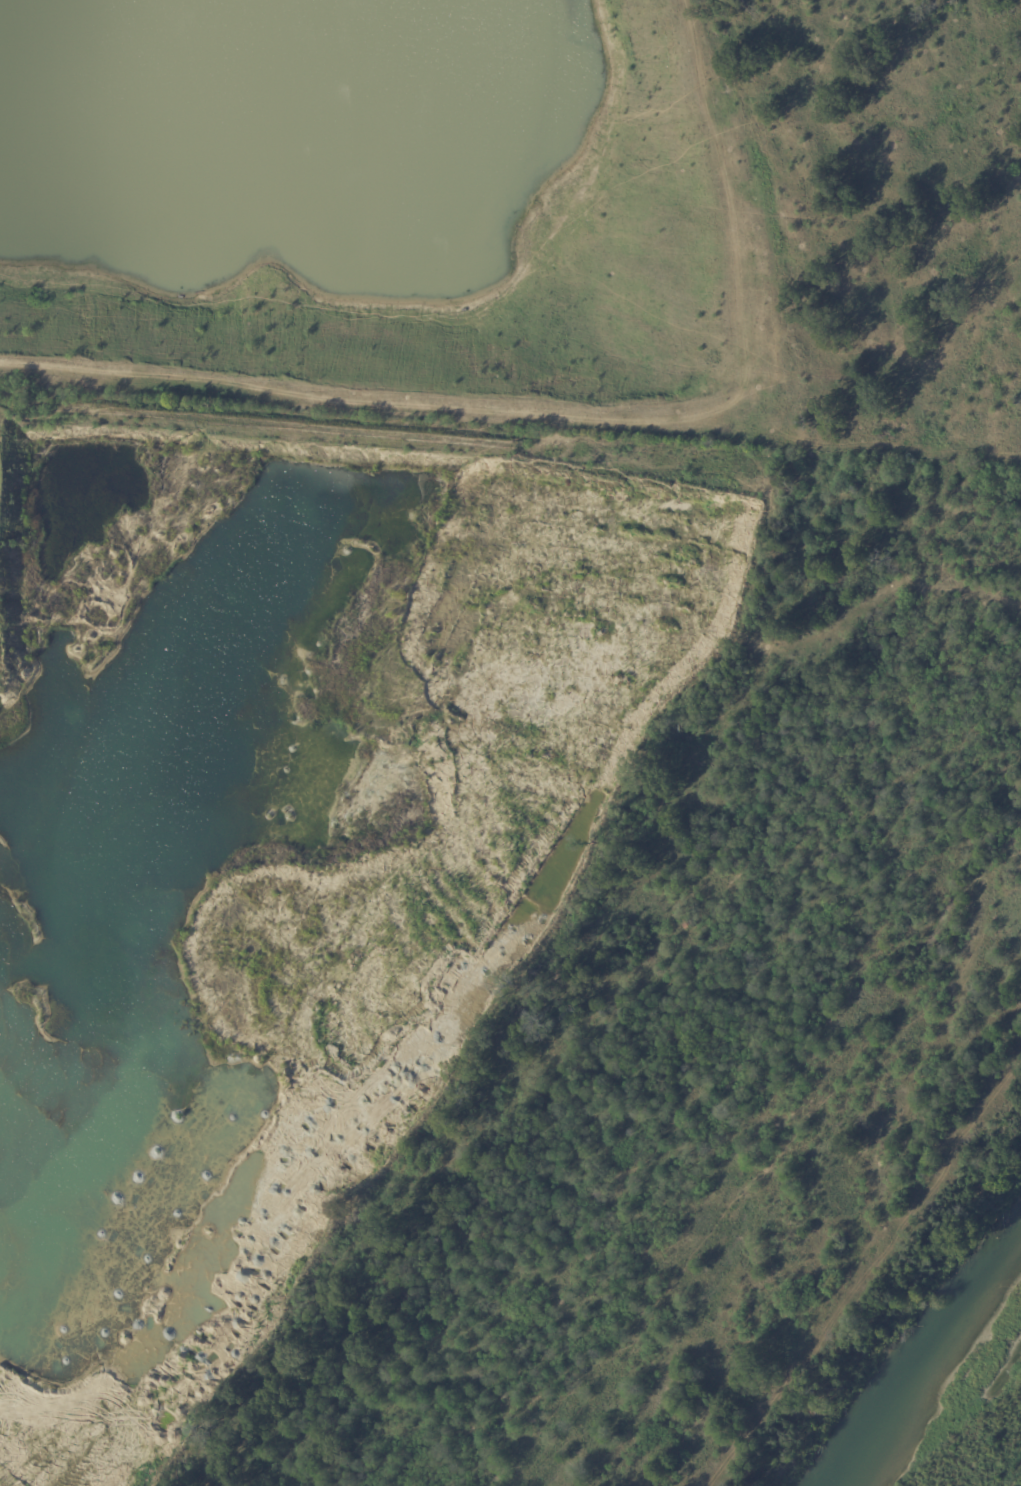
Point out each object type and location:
quarry: (397, 209)
road: (570, 420)
river: (918, 1357)

